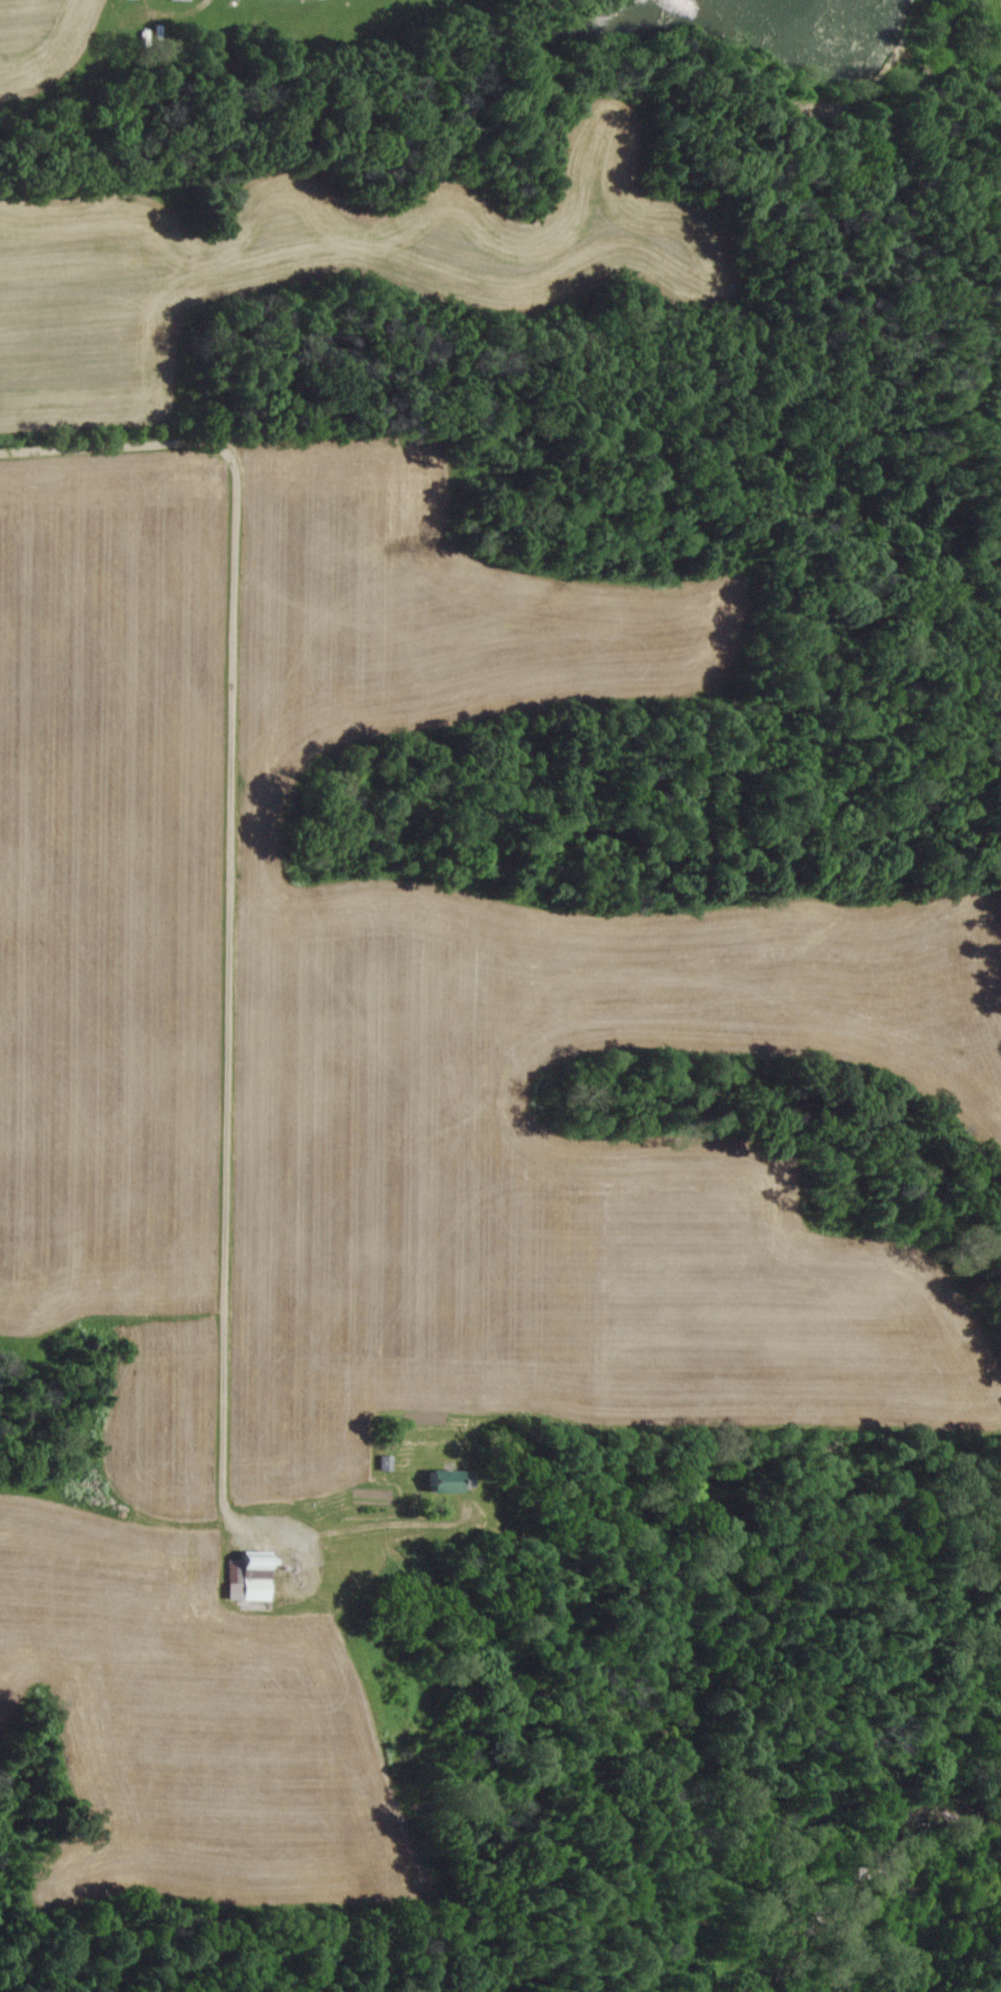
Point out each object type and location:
road: (241, 857)
building: (446, 1481)
building: (251, 1577)

